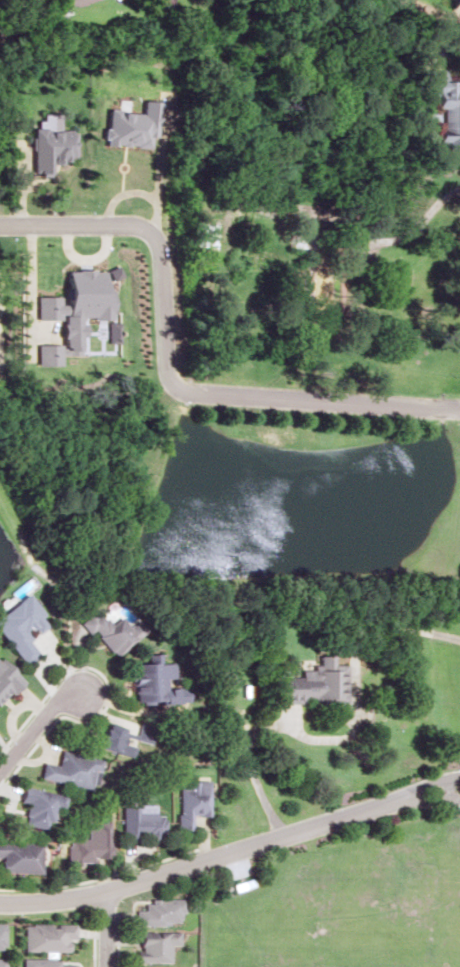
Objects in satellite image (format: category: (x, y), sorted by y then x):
building: (72, 1)
building: (441, 107)
road: (431, 207)
building: (203, 235)
building: (317, 292)
road: (166, 373)
building: (18, 627)
building: (107, 631)
road: (361, 637)
building: (5, 680)
building: (146, 681)
building: (303, 683)
road: (37, 727)
building: (111, 739)
building: (70, 769)
building: (190, 801)
building: (37, 805)
building: (141, 823)
building: (90, 842)
road: (231, 851)
building: (20, 856)
building: (157, 911)
road: (105, 928)
building: (1, 935)
building: (46, 936)
building: (152, 946)
building: (1, 962)
building: (45, 963)

